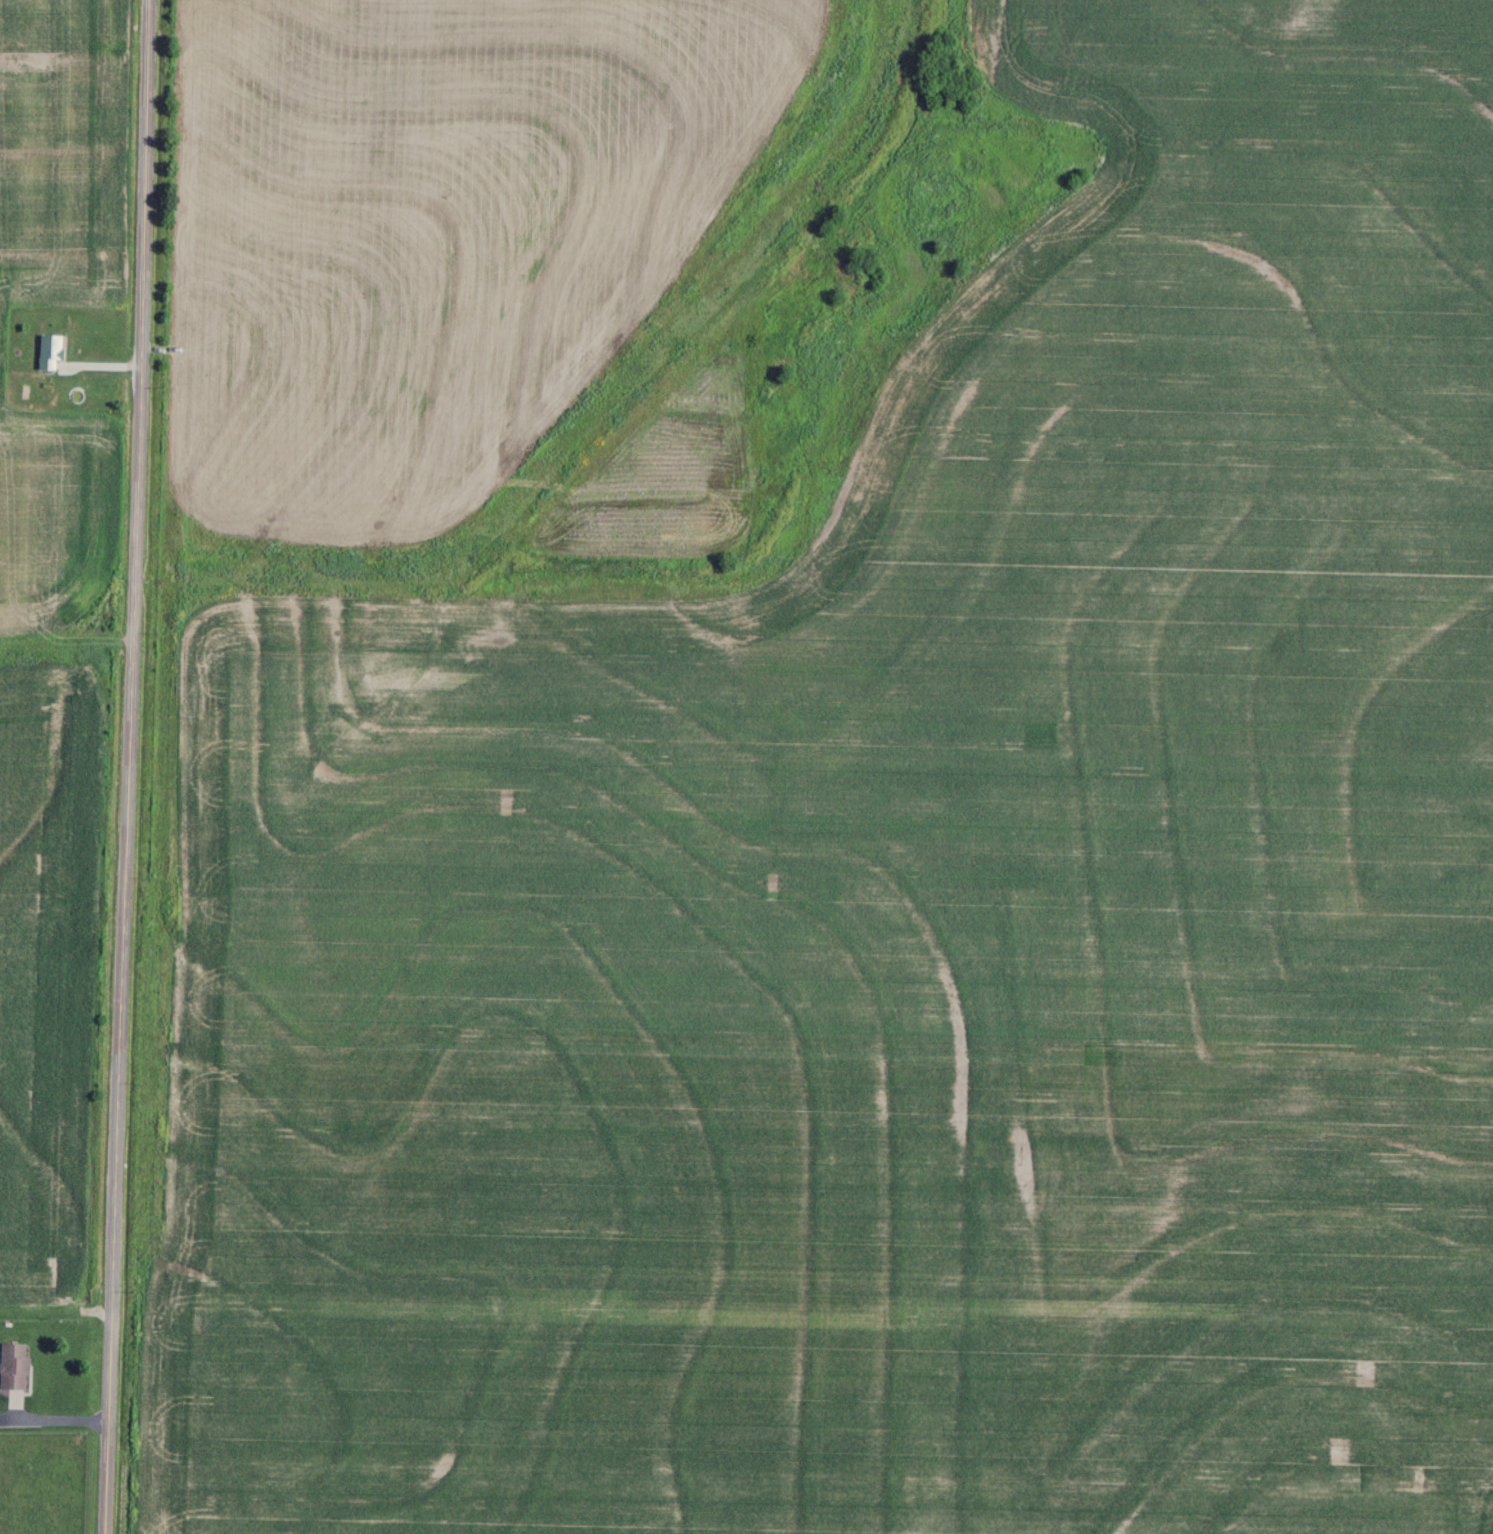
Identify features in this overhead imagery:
crop: (69, 153)
building: (52, 351)
crop: (63, 536)
road: (131, 767)
crop: (55, 979)
building: (17, 1367)

